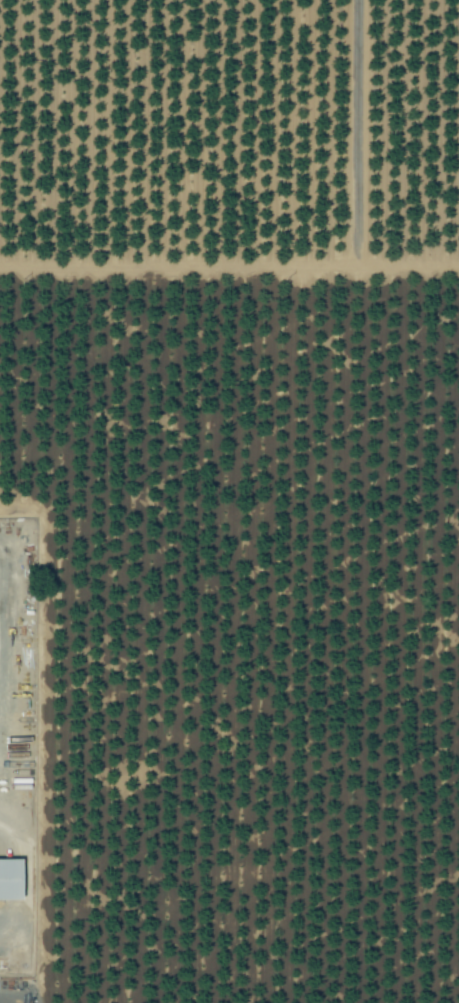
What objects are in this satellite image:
road: (24, 877)
building: (11, 881)

